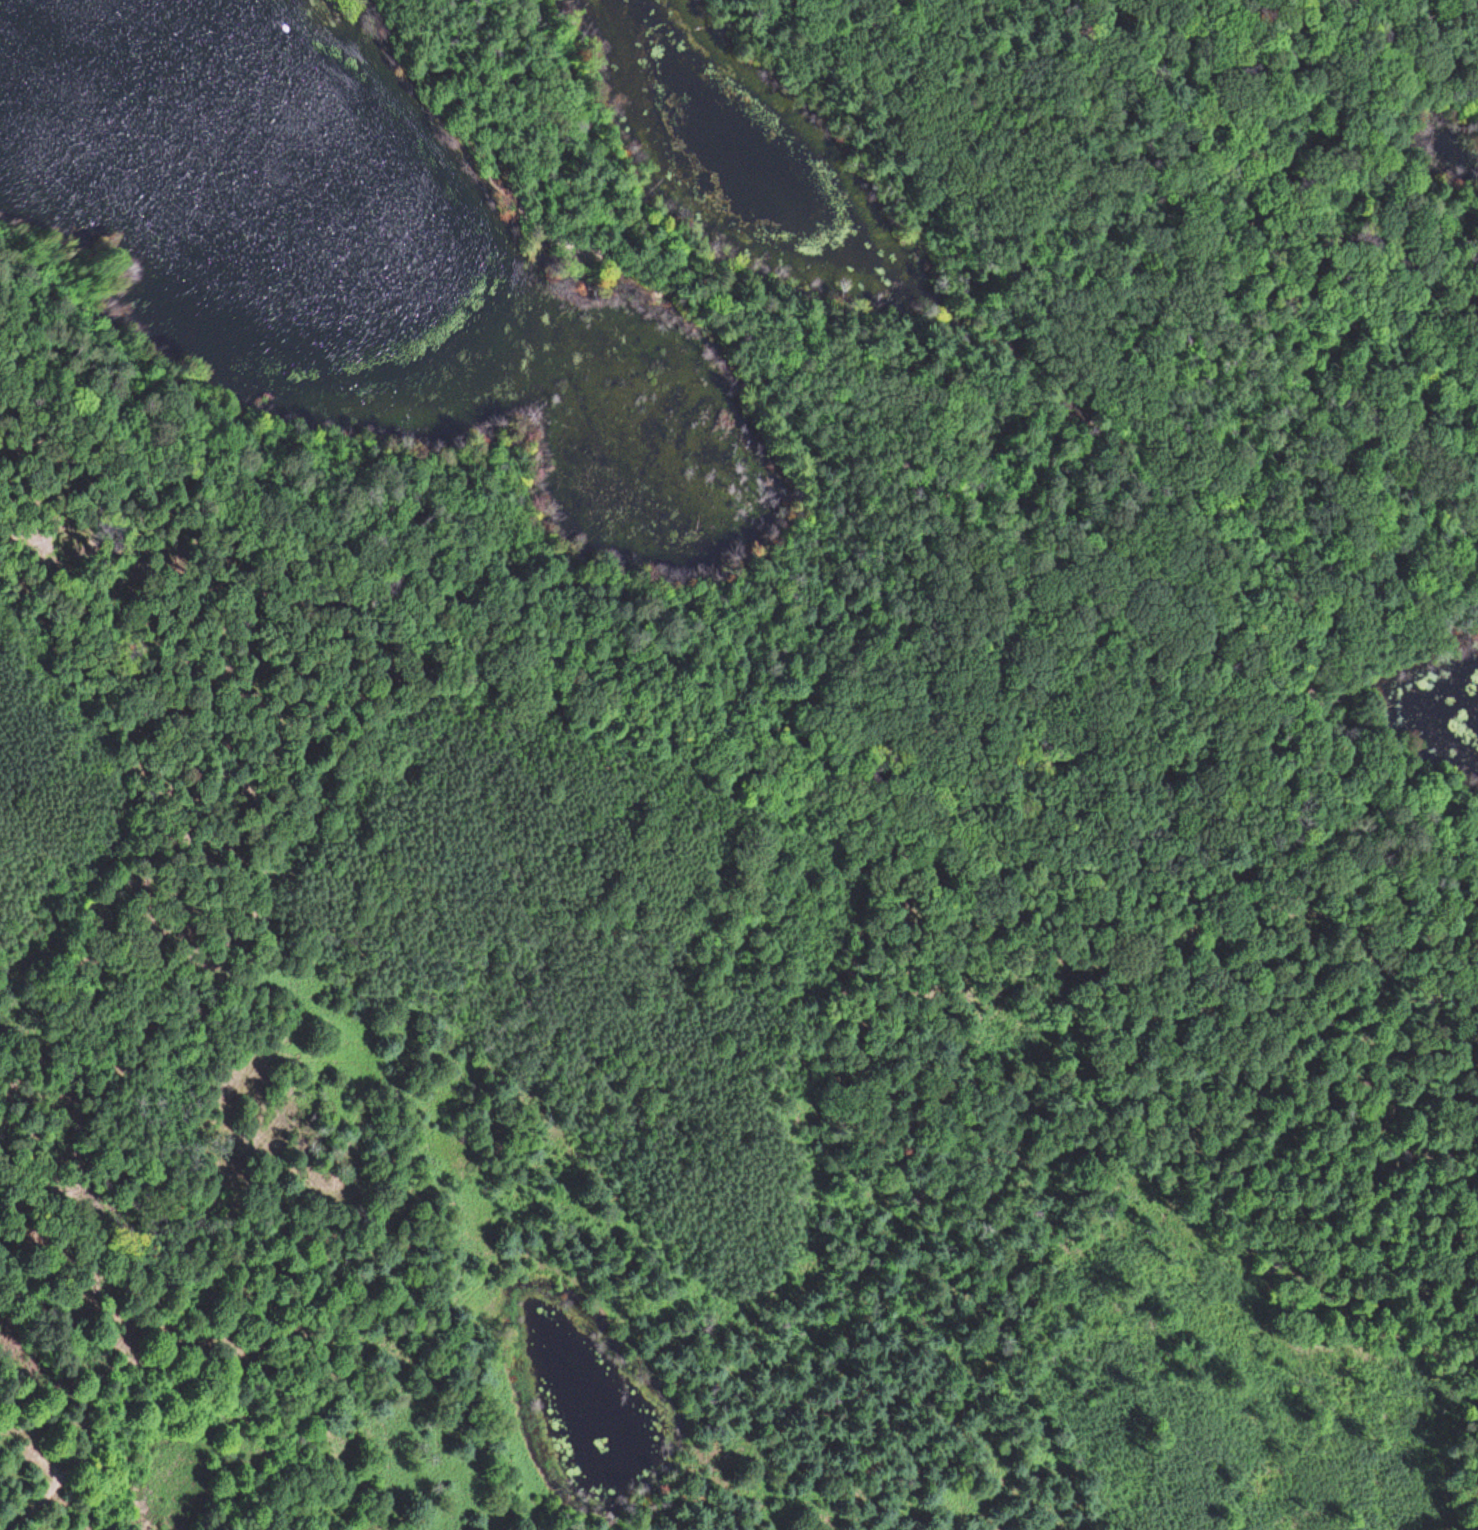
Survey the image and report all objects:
road: (1139, 136)
road: (715, 305)
road: (1223, 539)
road: (1297, 591)
road: (26, 1508)

